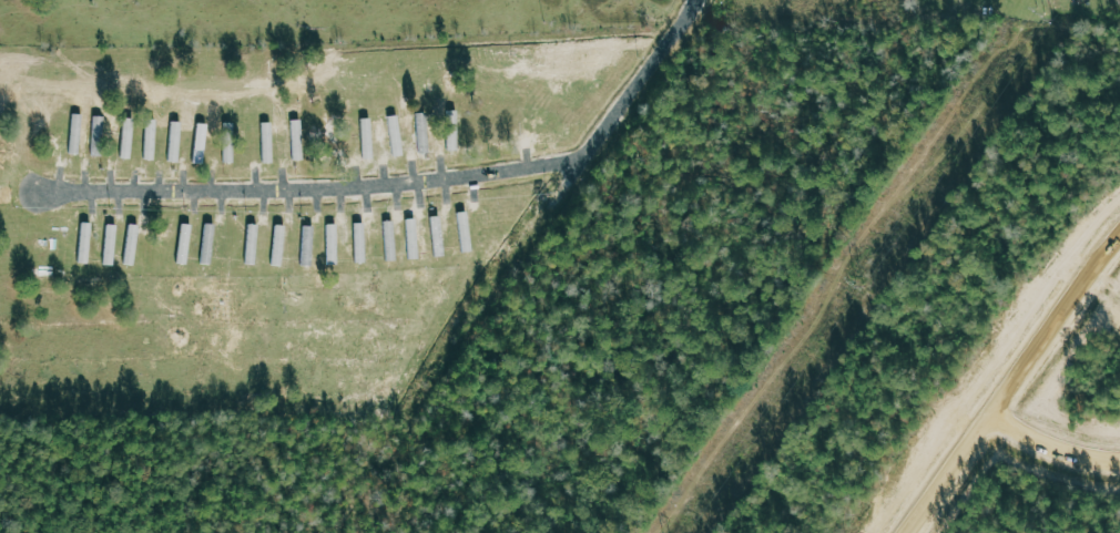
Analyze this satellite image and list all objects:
power tower: (1051, 17)
building: (99, 126)
building: (452, 130)
building: (77, 134)
building: (151, 139)
building: (296, 139)
building: (366, 139)
building: (128, 141)
building: (175, 142)
building: (266, 142)
building: (200, 143)
building: (85, 243)
building: (359, 243)
building: (184, 244)
building: (207, 244)
building: (252, 244)
building: (332, 244)
building: (110, 245)
building: (132, 245)
building: (278, 245)
building: (307, 246)
building: (413, 247)
power tower: (864, 286)

